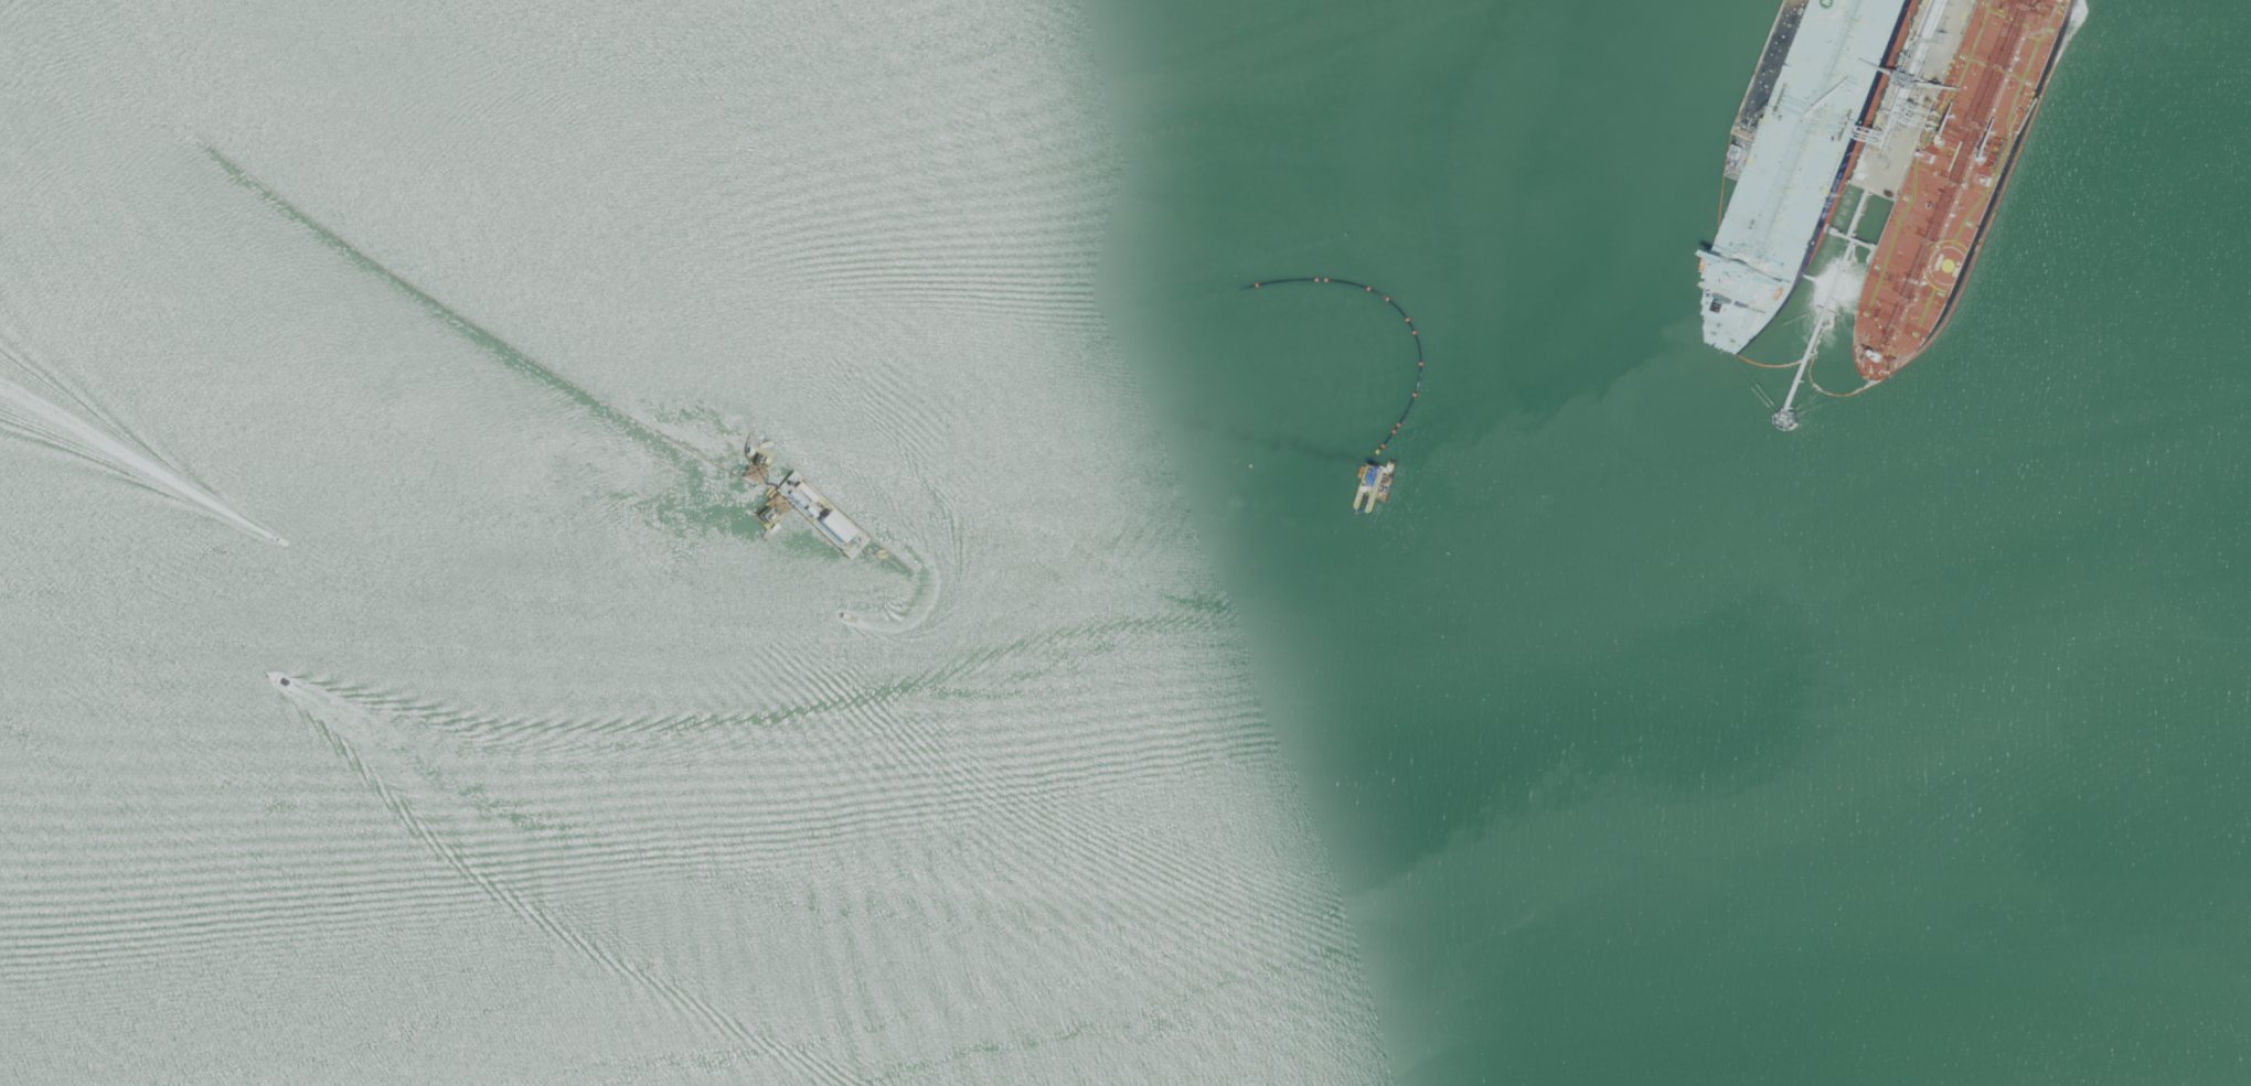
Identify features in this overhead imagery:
pier: (1912, 95)
building: (1889, 151)

